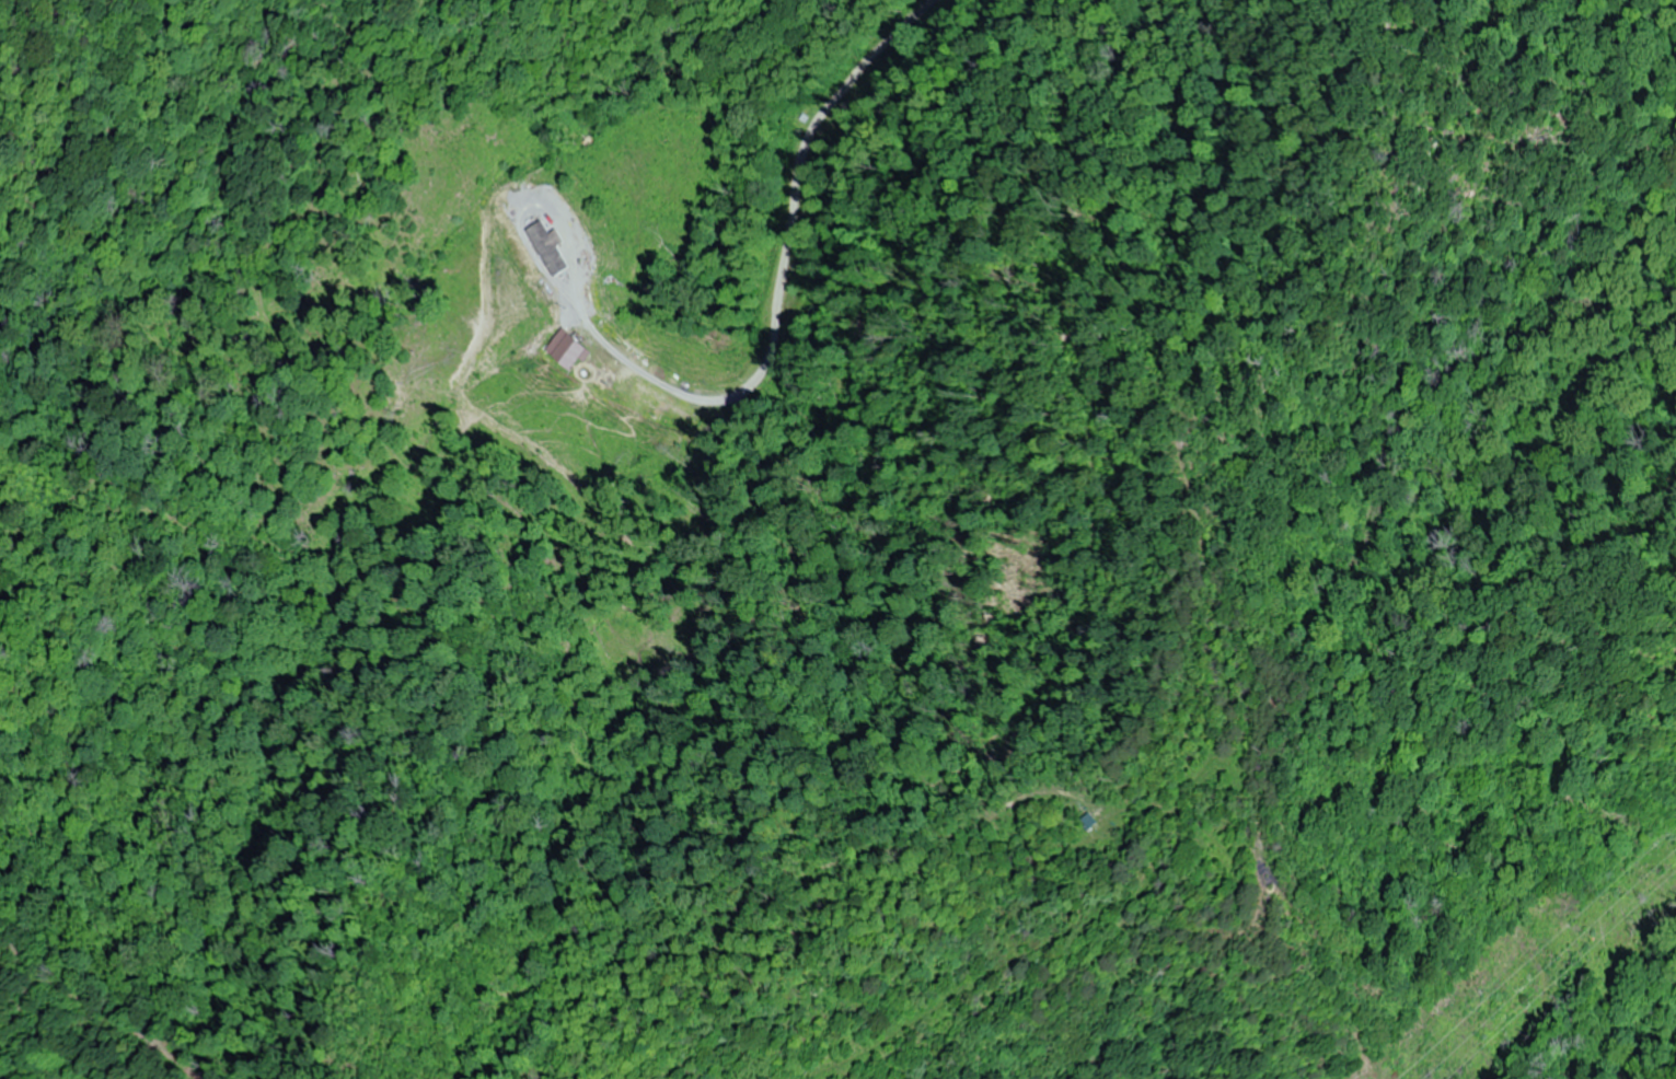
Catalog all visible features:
building: (544, 247)
building: (563, 351)
road: (103, 993)

